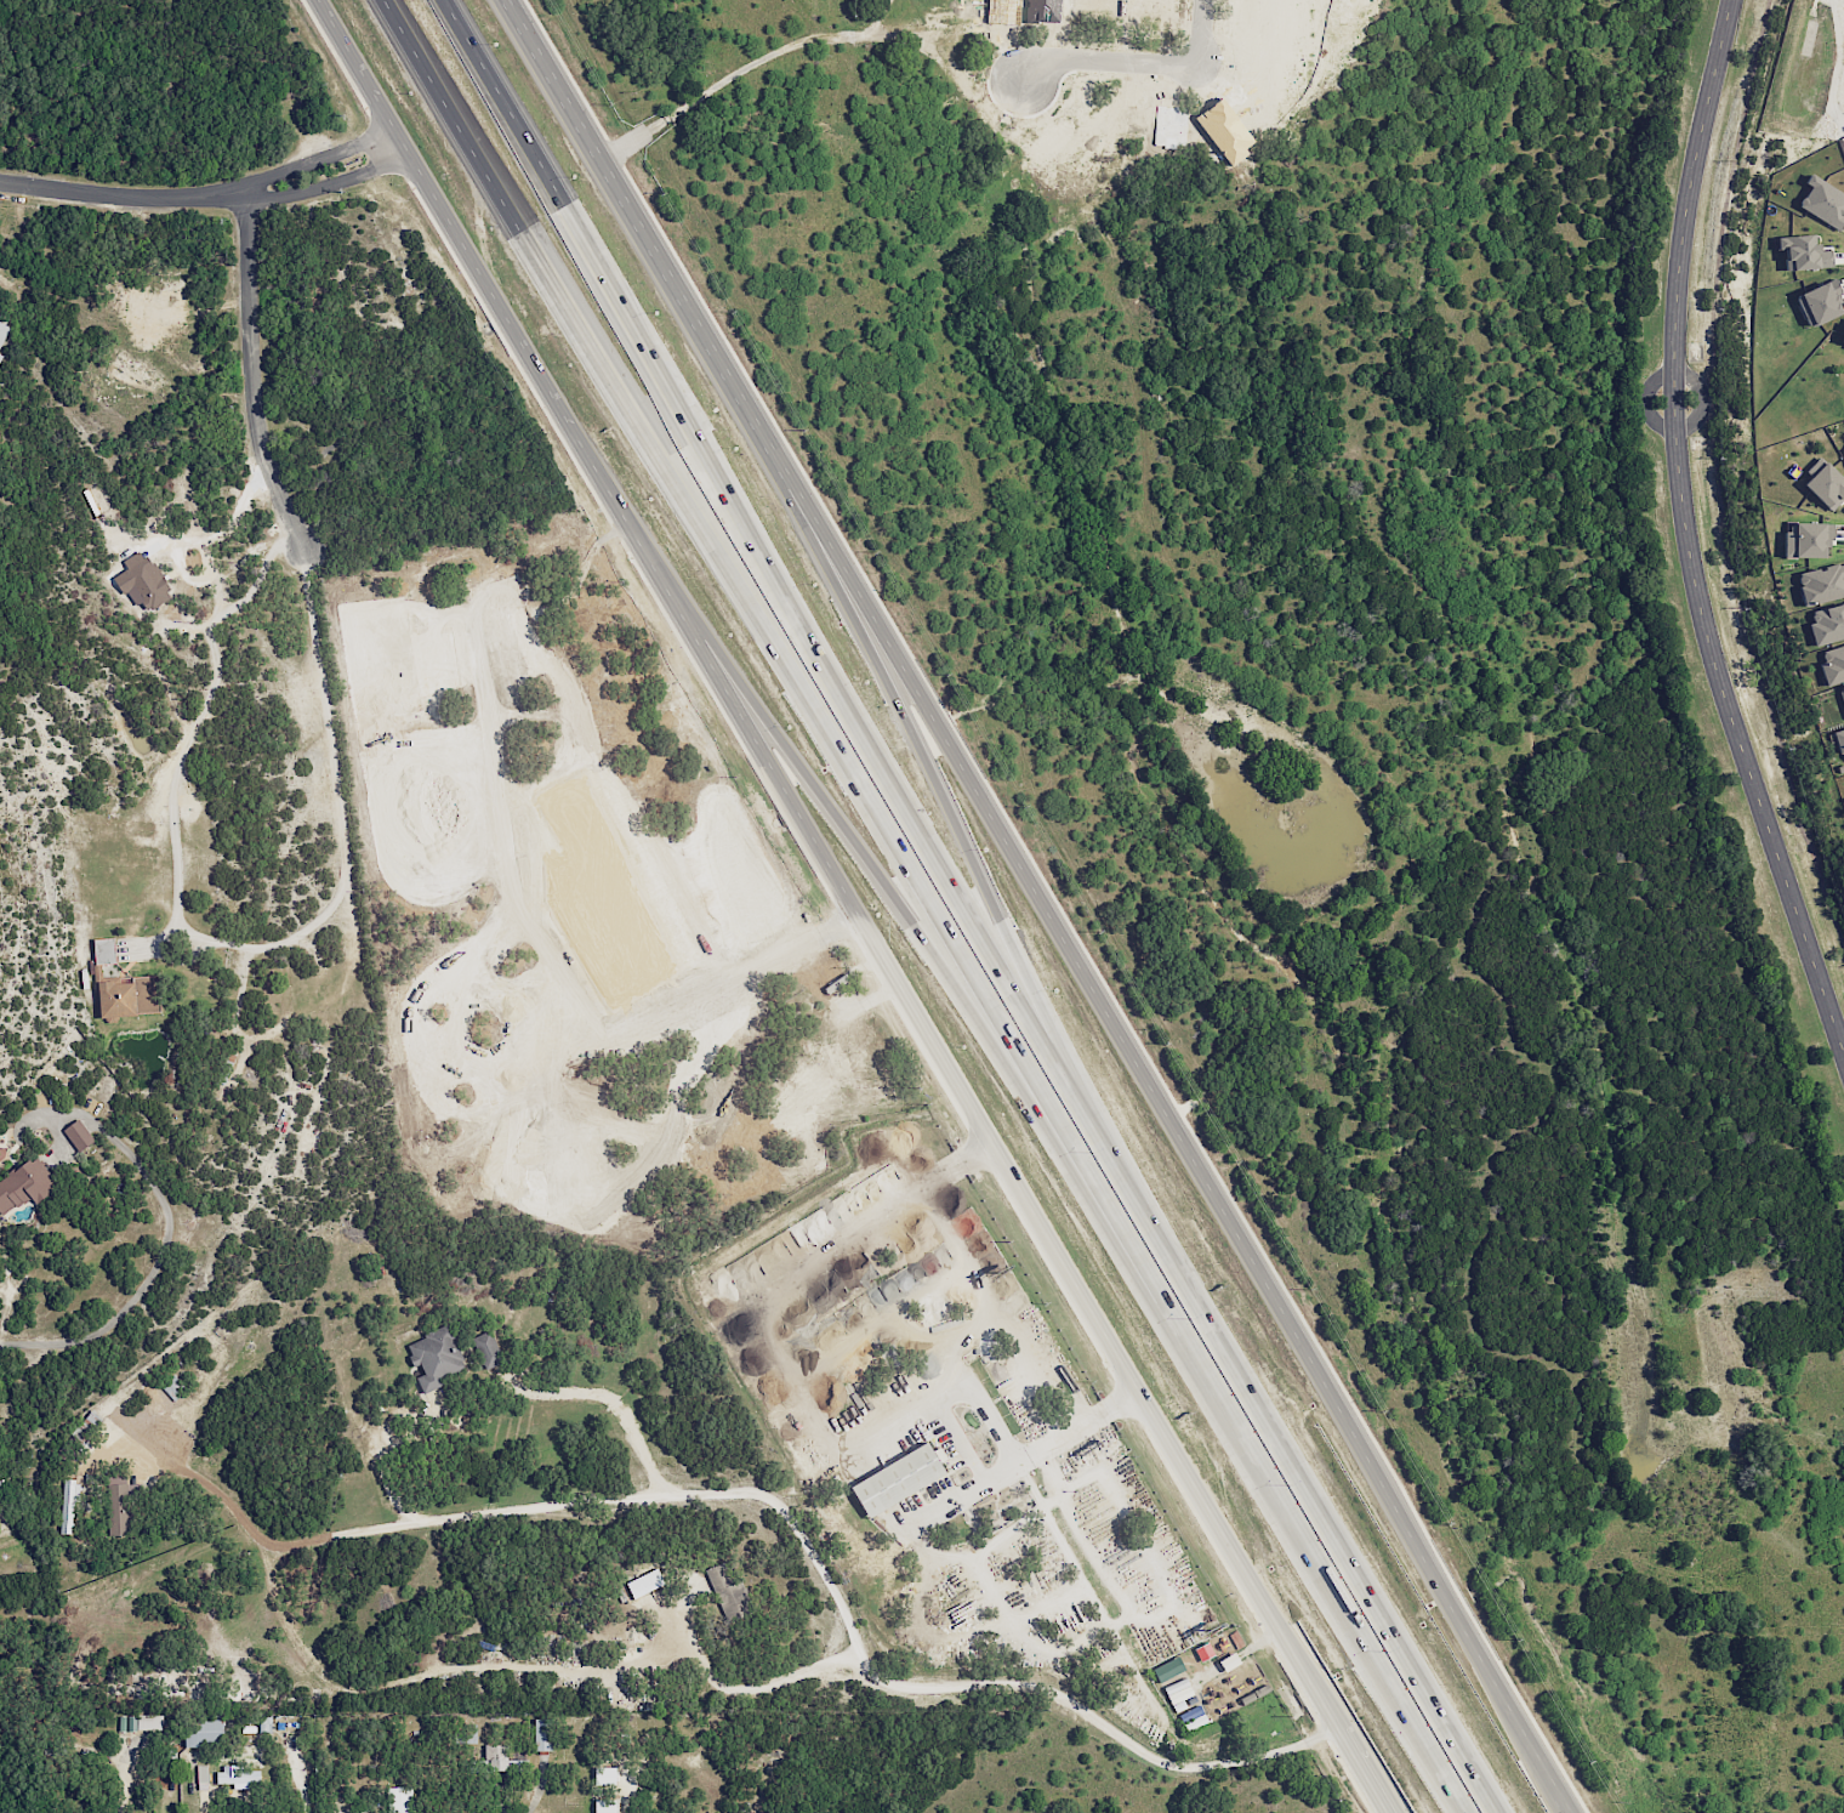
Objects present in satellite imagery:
road: (1138, 62)
road: (752, 68)
road: (306, 164)
road: (315, 188)
road: (108, 195)
building: (1823, 201)
road: (568, 220)
road: (525, 226)
building: (1802, 252)
building: (2, 331)
building: (0, 356)
road: (252, 371)
road: (1701, 413)
building: (1826, 485)
road: (1685, 535)
building: (1805, 539)
road: (180, 551)
road: (207, 557)
building: (1821, 584)
building: (477, 590)
road: (218, 595)
building: (1827, 624)
building: (1832, 664)
building: (1842, 694)
building: (1839, 739)
road: (904, 814)
road: (996, 823)
road: (961, 836)
road: (827, 863)
road: (873, 874)
road: (508, 881)
road: (218, 942)
building: (103, 950)
building: (129, 998)
building: (698, 1025)
building: (867, 1063)
road: (1065, 1132)
building: (78, 1135)
building: (24, 1183)
road: (164, 1232)
road: (943, 1234)
building: (884, 1295)
building: (486, 1349)
building: (436, 1357)
road: (1053, 1387)
road: (945, 1396)
road: (1111, 1409)
building: (1064, 1448)
road: (1053, 1468)
road: (996, 1476)
building: (897, 1479)
building: (1, 1491)
road: (1311, 1499)
building: (68, 1504)
building: (120, 1508)
road: (383, 1528)
building: (727, 1590)
road: (1163, 1610)
road: (867, 1671)
road: (746, 1686)
building: (1193, 1717)
building: (140, 1722)
building: (264, 1723)
building: (204, 1729)
road: (1527, 1730)
building: (541, 1734)
building: (466, 1738)
building: (501, 1760)
road: (1362, 1769)
building: (237, 1777)
road: (298, 1780)
building: (399, 1800)
building: (604, 1806)

